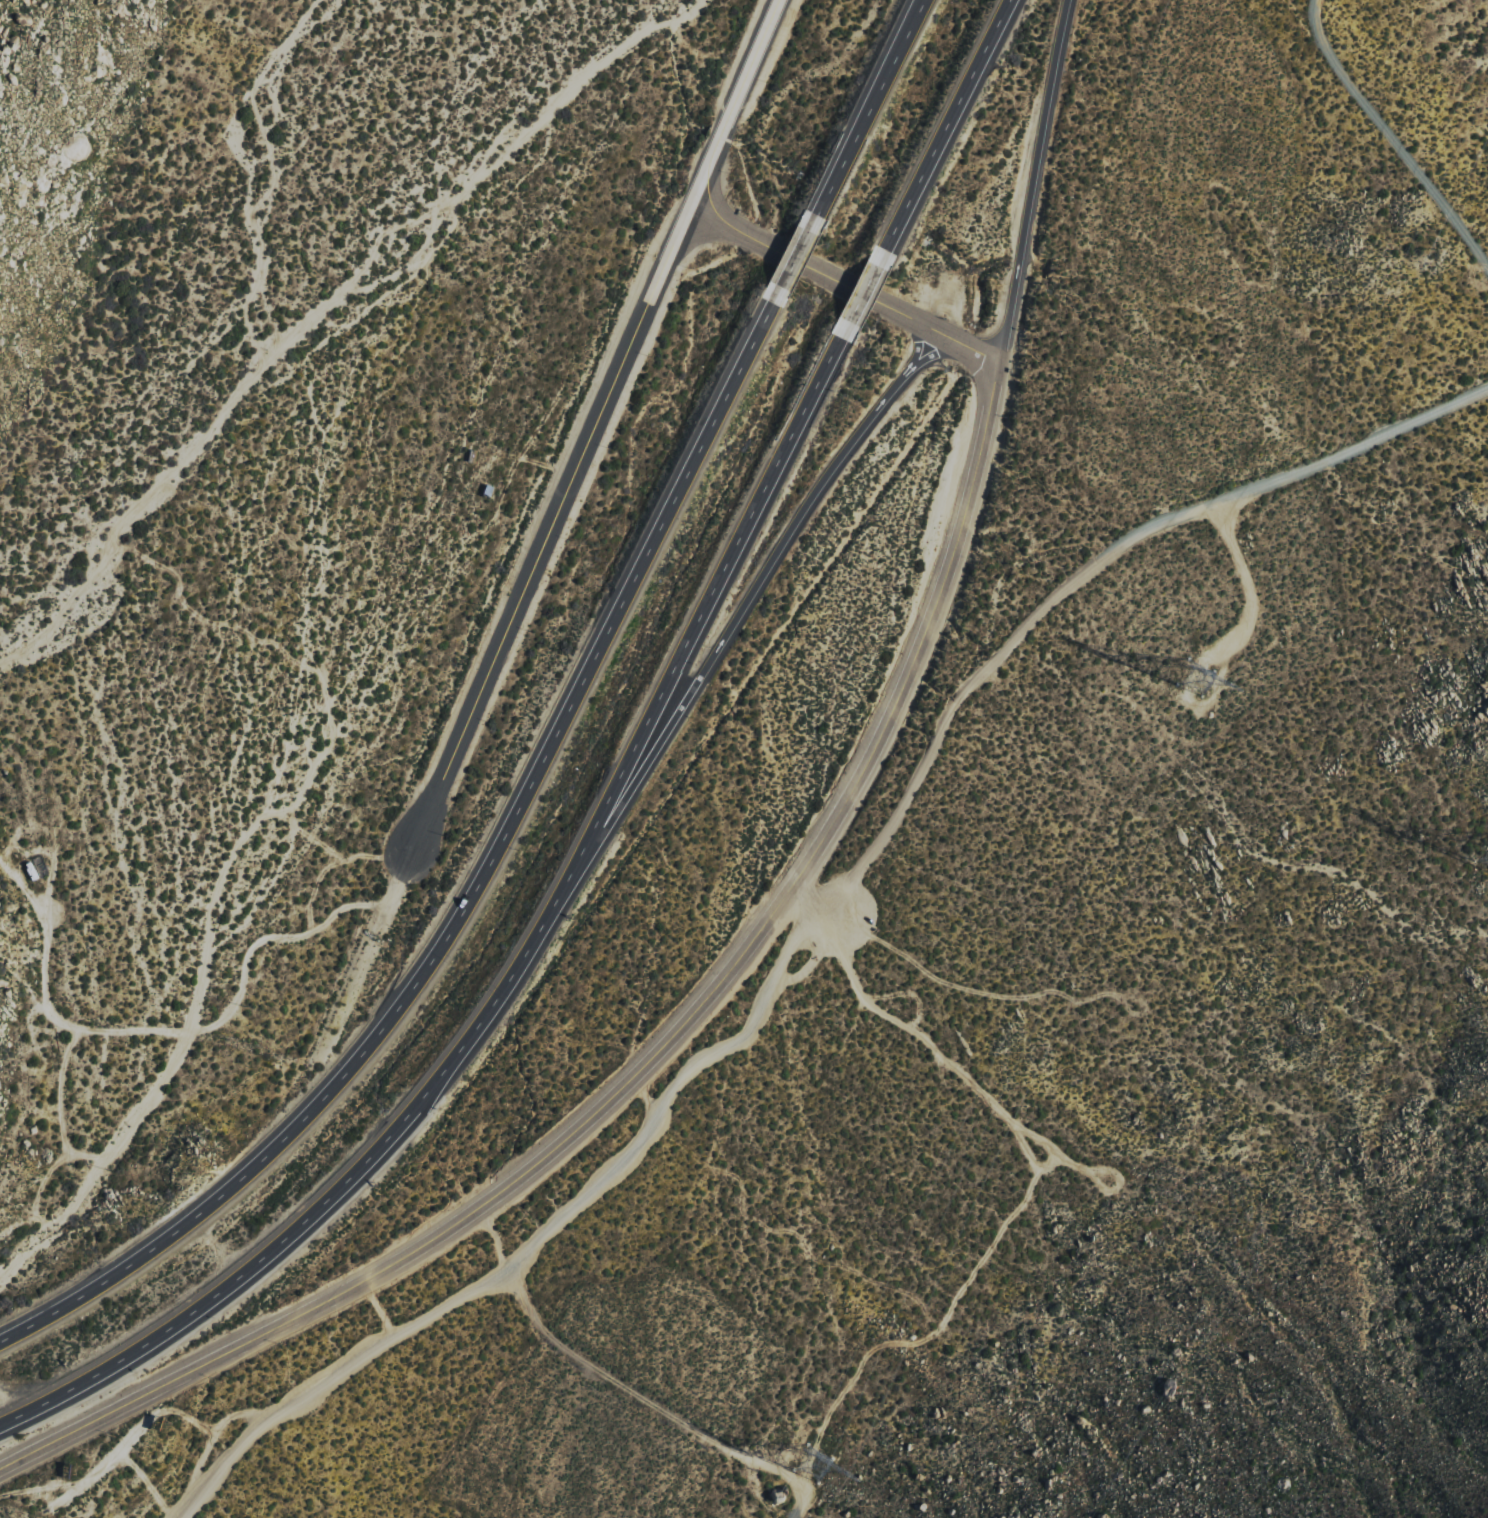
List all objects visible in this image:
road: (747, 79)
road: (869, 113)
road: (944, 130)
road: (1391, 134)
road: (706, 183)
road: (1035, 185)
road: (681, 239)
road: (797, 261)
road: (806, 269)
road: (861, 295)
road: (930, 334)
road: (911, 348)
road: (926, 357)
road: (977, 358)
road: (739, 376)
road: (536, 565)
road: (698, 623)
road: (722, 641)
power tower: (1209, 676)
road: (496, 853)
road: (817, 906)
parking lot: (835, 916)
road: (830, 932)
road: (532, 945)
road: (656, 1057)
road: (960, 1073)
road: (1110, 1191)
road: (288, 1237)
road: (492, 1239)
road: (135, 1264)
road: (376, 1313)
road: (22, 1332)
road: (596, 1383)
power tower: (824, 1467)

